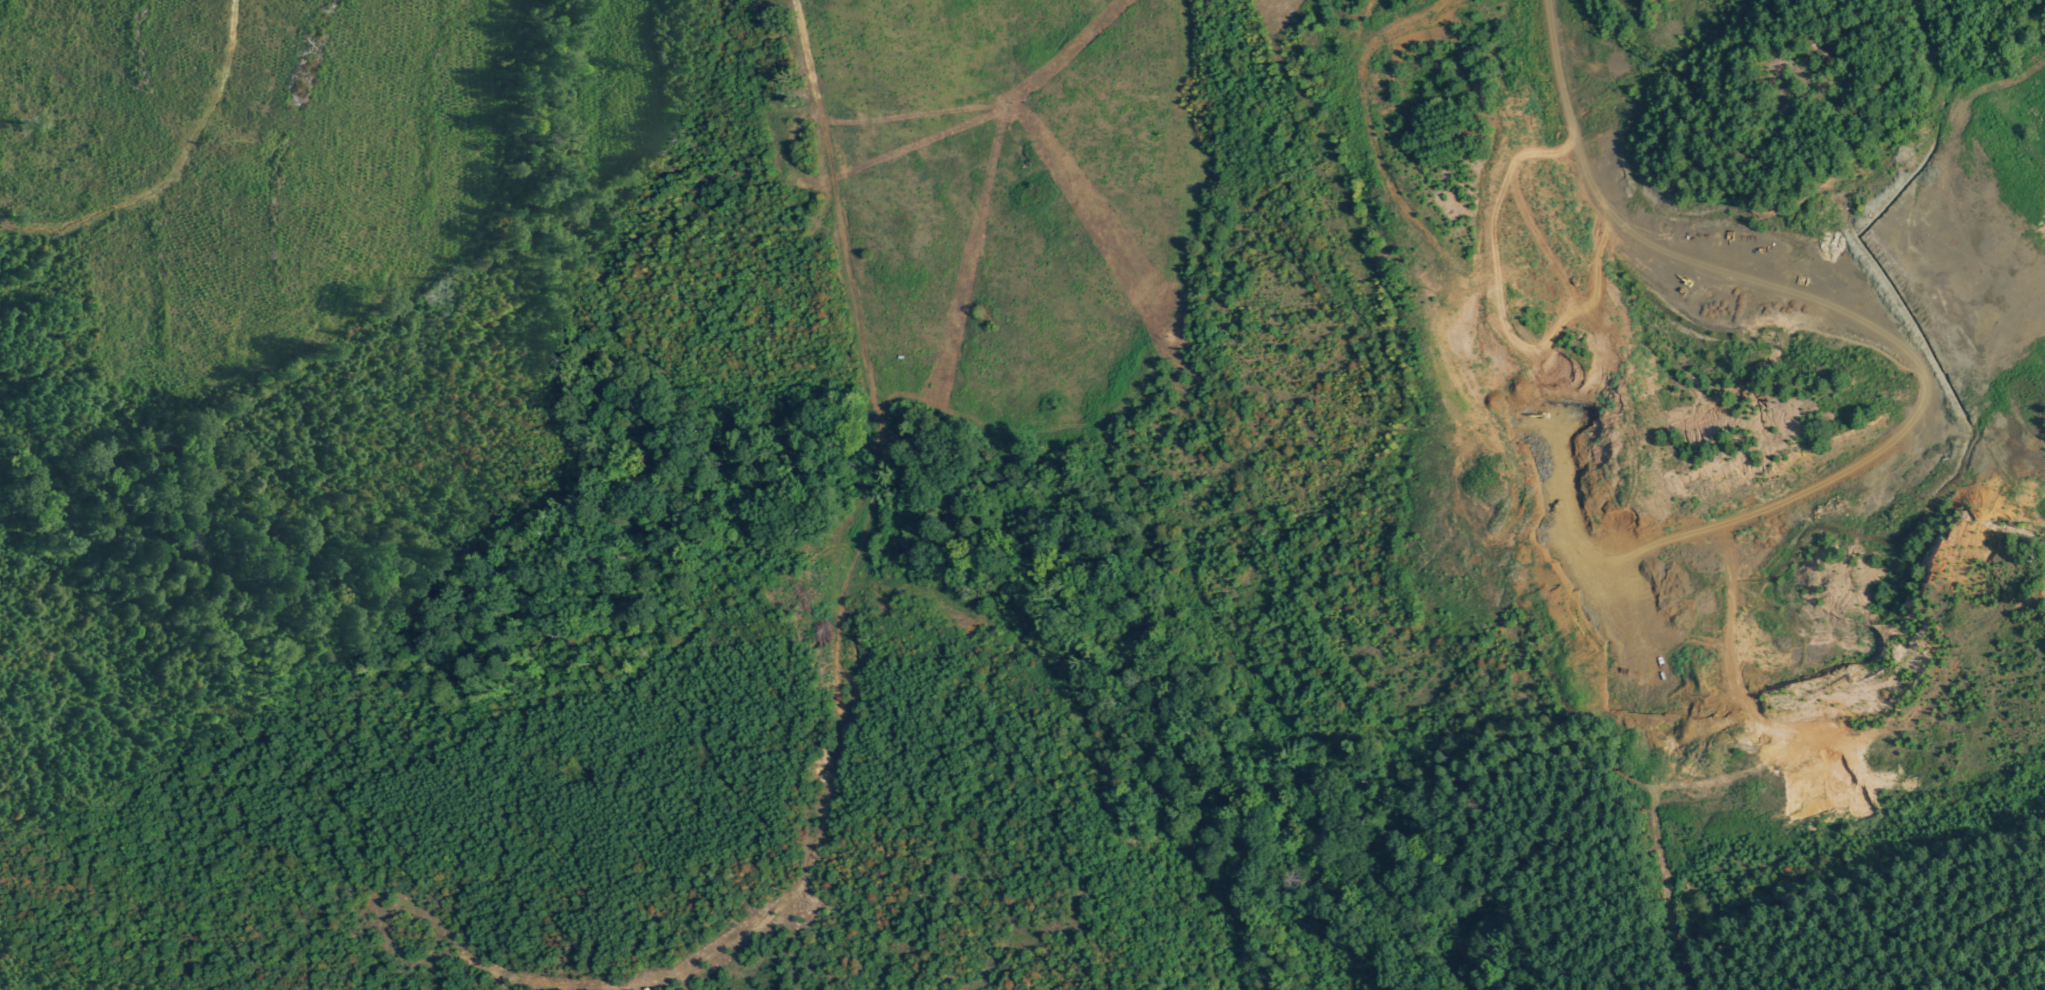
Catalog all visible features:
road: (1614, 151)

